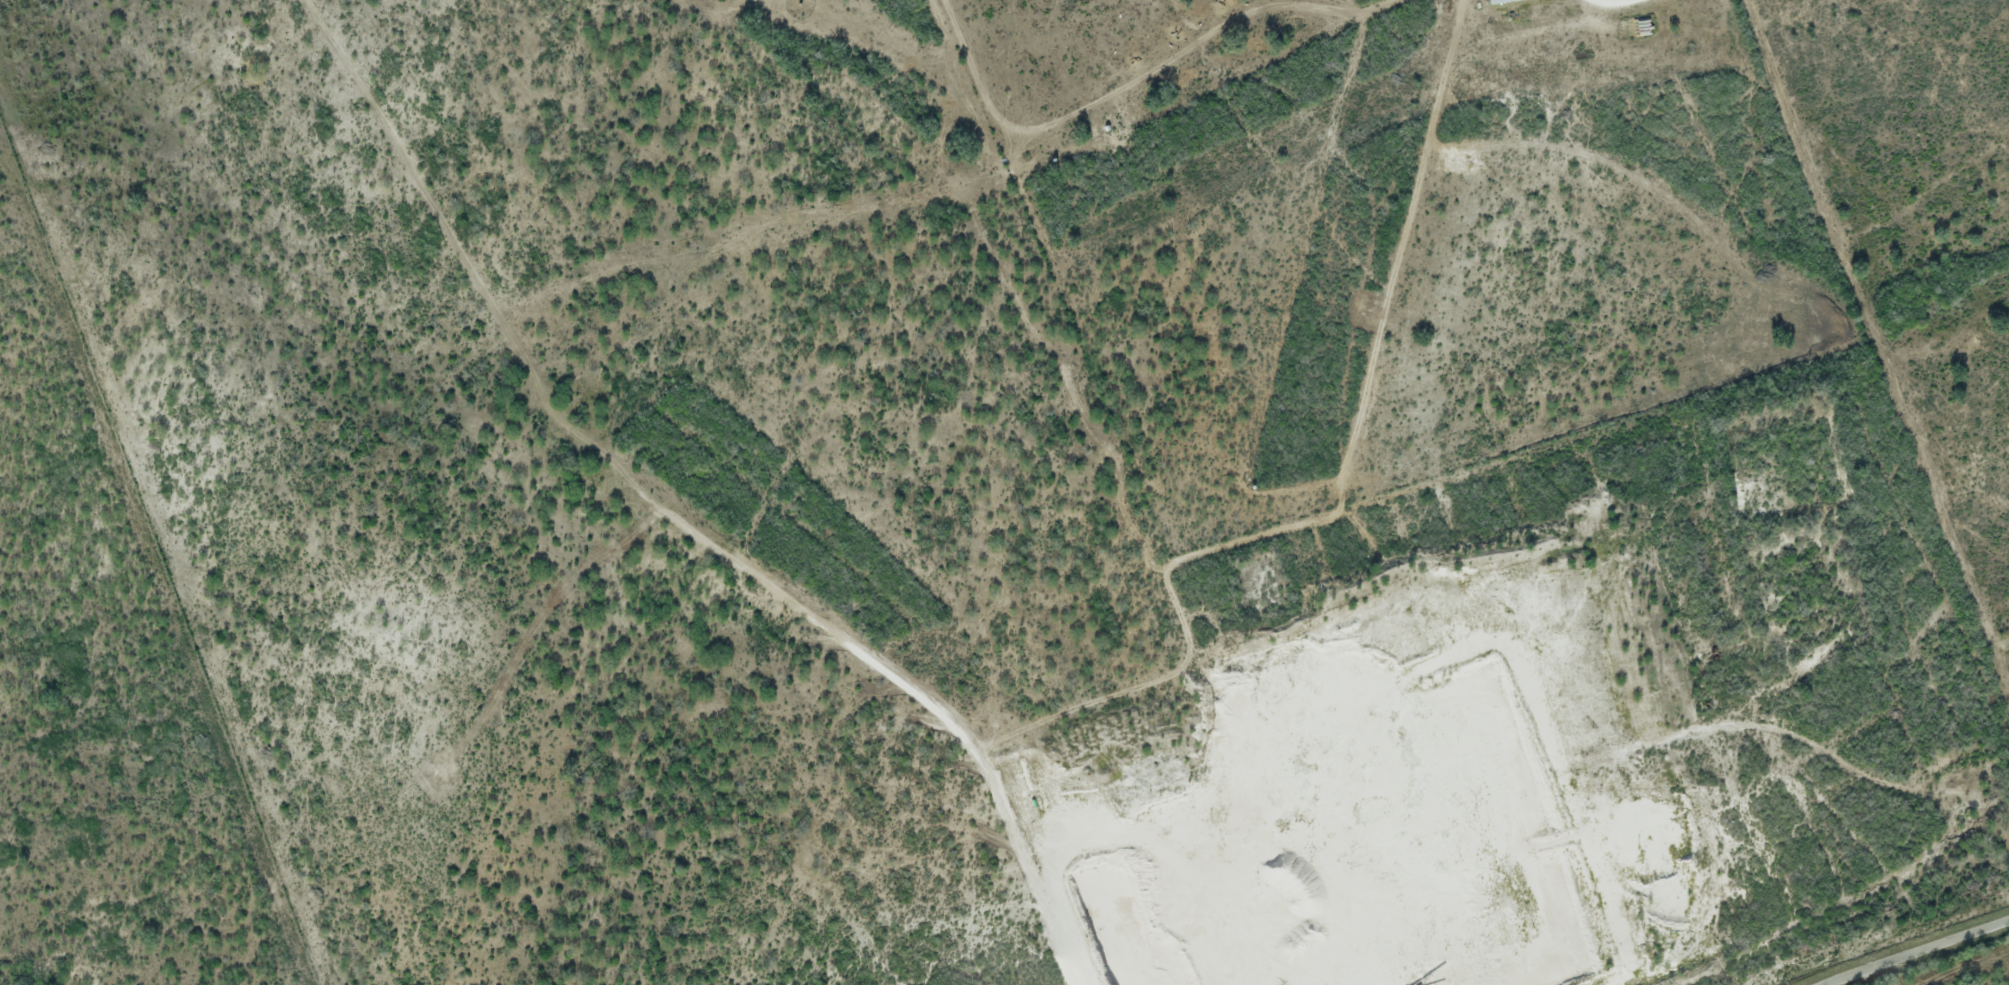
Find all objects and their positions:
building: (1495, 1)
road: (1921, 954)

